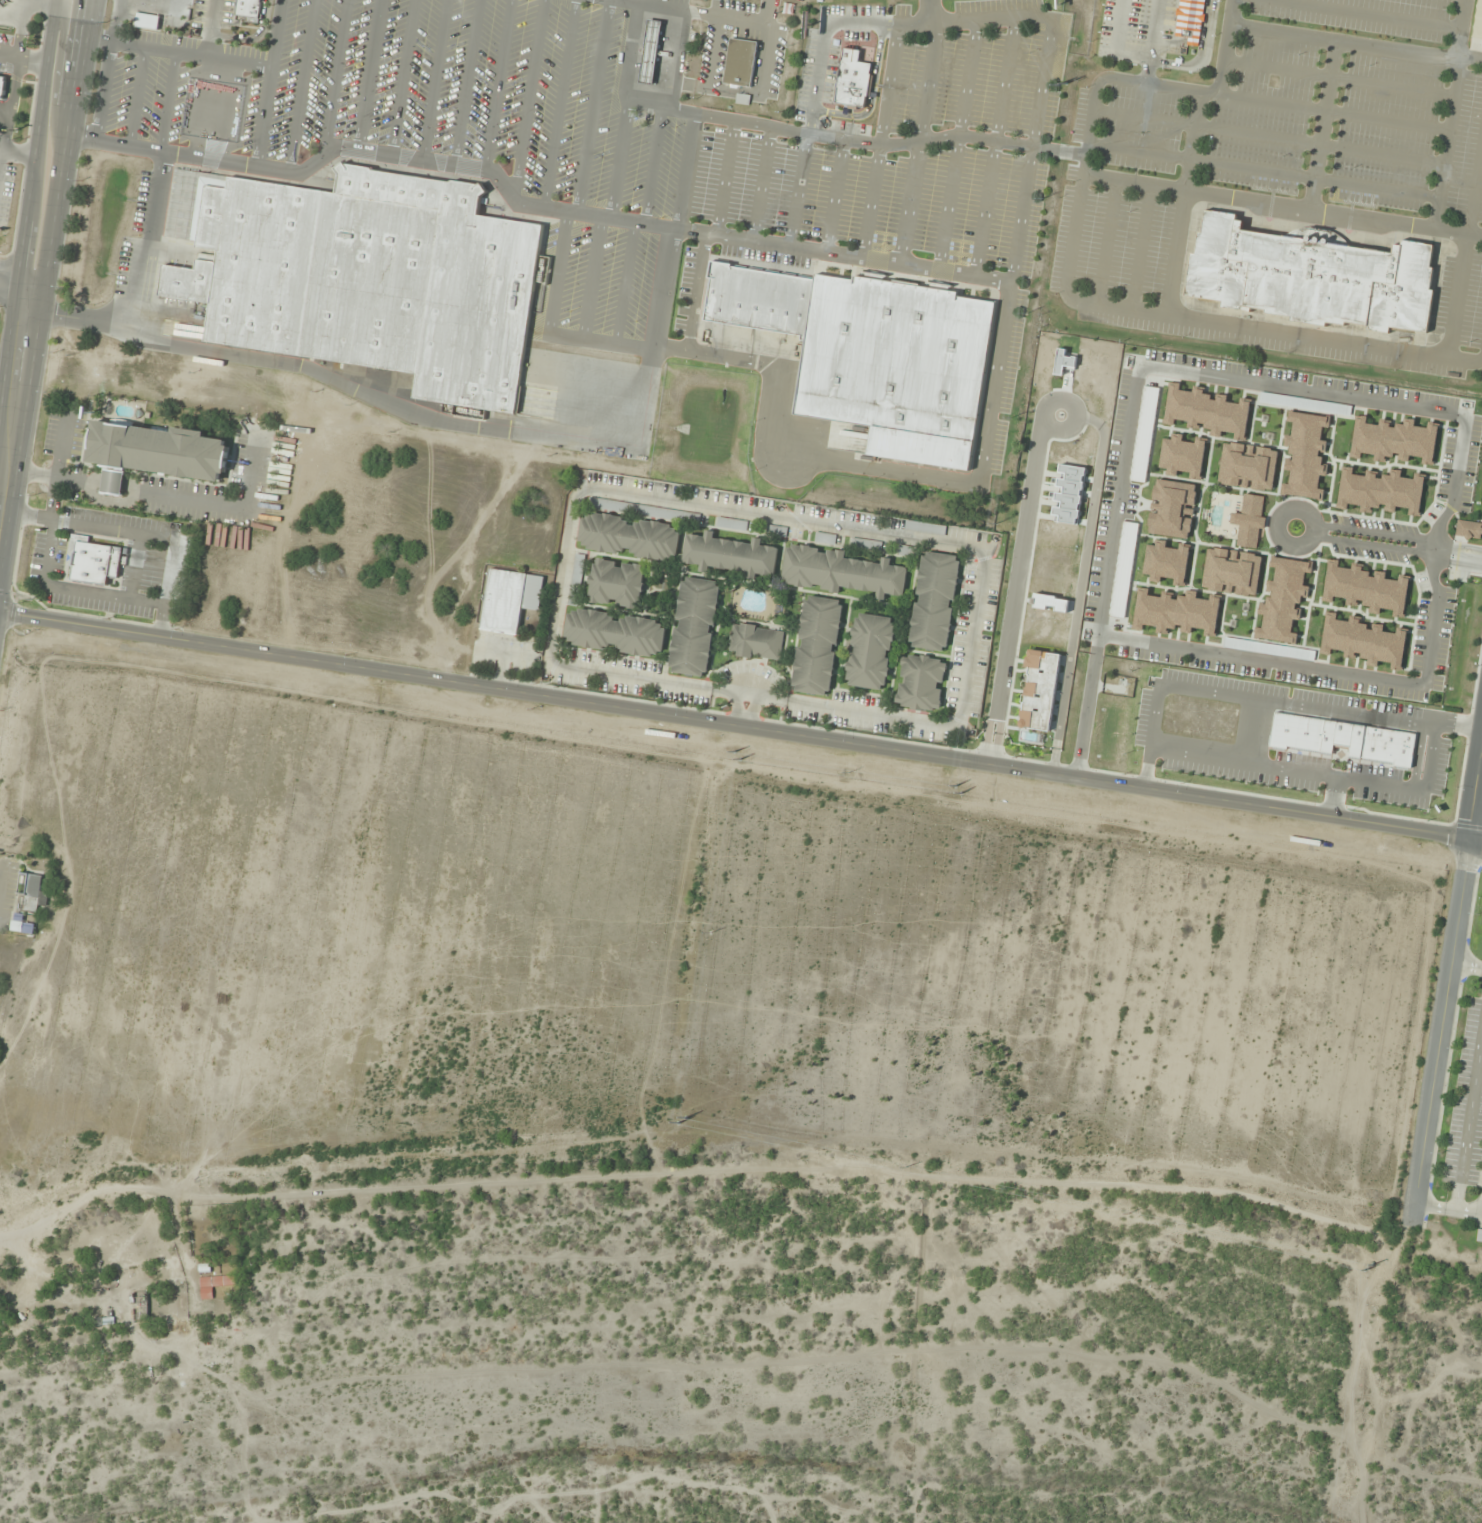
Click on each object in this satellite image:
building: (0, 0)
building: (247, 10)
road: (928, 12)
road: (766, 13)
road: (1366, 14)
road: (1015, 17)
building: (1188, 20)
road: (115, 21)
building: (145, 21)
road: (210, 29)
road: (252, 38)
road: (633, 40)
road: (1152, 42)
road: (768, 43)
road: (1354, 43)
road: (1115, 45)
road: (1224, 47)
building: (651, 52)
road: (178, 53)
gas station: (649, 53)
road: (713, 53)
road: (1201, 56)
road: (23, 58)
road: (668, 58)
building: (738, 63)
road: (367, 74)
road: (402, 77)
road: (334, 78)
road: (1101, 78)
road: (433, 79)
road: (1338, 79)
building: (851, 80)
road: (267, 82)
road: (465, 82)
road: (496, 84)
road: (54, 85)
road: (300, 85)
building: (3, 88)
road: (104, 92)
road: (870, 95)
road: (135, 97)
road: (527, 99)
road: (166, 102)
road: (559, 104)
road: (591, 106)
road: (1333, 112)
road: (1451, 113)
road: (1322, 125)
road: (1194, 132)
road: (1267, 137)
road: (842, 140)
road: (879, 142)
road: (917, 143)
road: (956, 145)
road: (994, 147)
road: (618, 160)
road: (652, 165)
road: (1262, 171)
road: (724, 178)
road: (760, 184)
road: (1475, 188)
road: (796, 190)
road: (833, 196)
road: (1282, 204)
road: (528, 205)
road: (674, 231)
road: (1106, 243)
road: (150, 244)
road: (1139, 248)
road: (1176, 253)
building: (1310, 277)
road: (32, 278)
road: (591, 278)
building: (369, 280)
road: (28, 281)
road: (624, 283)
road: (695, 292)
road: (1457, 296)
building: (757, 300)
road: (1214, 323)
road: (603, 342)
building: (895, 366)
road: (992, 382)
road: (15, 387)
road: (378, 401)
road: (1075, 409)
building: (1207, 412)
fountain: (1059, 415)
building: (1145, 435)
building: (1393, 441)
building: (155, 452)
building: (1306, 454)
building: (1183, 456)
road: (827, 462)
building: (1249, 466)
building: (1381, 492)
road: (1116, 508)
building: (1171, 508)
building: (647, 510)
building: (1250, 521)
building: (732, 524)
building: (923, 527)
building: (1468, 530)
building: (776, 531)
building: (629, 536)
road: (1388, 536)
building: (825, 538)
building: (866, 544)
road: (953, 548)
road: (1386, 549)
building: (906, 551)
building: (730, 554)
building: (1167, 563)
building: (1124, 570)
building: (842, 571)
building: (1231, 572)
building: (617, 583)
road: (1079, 587)
building: (1366, 588)
road: (1013, 591)
building: (510, 599)
building: (935, 601)
building: (1283, 601)
building: (1176, 612)
building: (695, 626)
building: (614, 632)
building: (1363, 641)
building: (756, 642)
building: (817, 645)
building: (870, 652)
road: (551, 656)
building: (921, 682)
road: (748, 694)
road: (734, 709)
road: (751, 711)
road: (741, 727)
road: (1474, 785)
building: (30, 893)
building: (21, 925)
road: (1466, 965)
road: (1439, 1032)
road: (1467, 1117)
road: (1447, 1211)
building: (198, 1216)
building: (1479, 1236)
building: (140, 1306)
building: (182, 1307)

